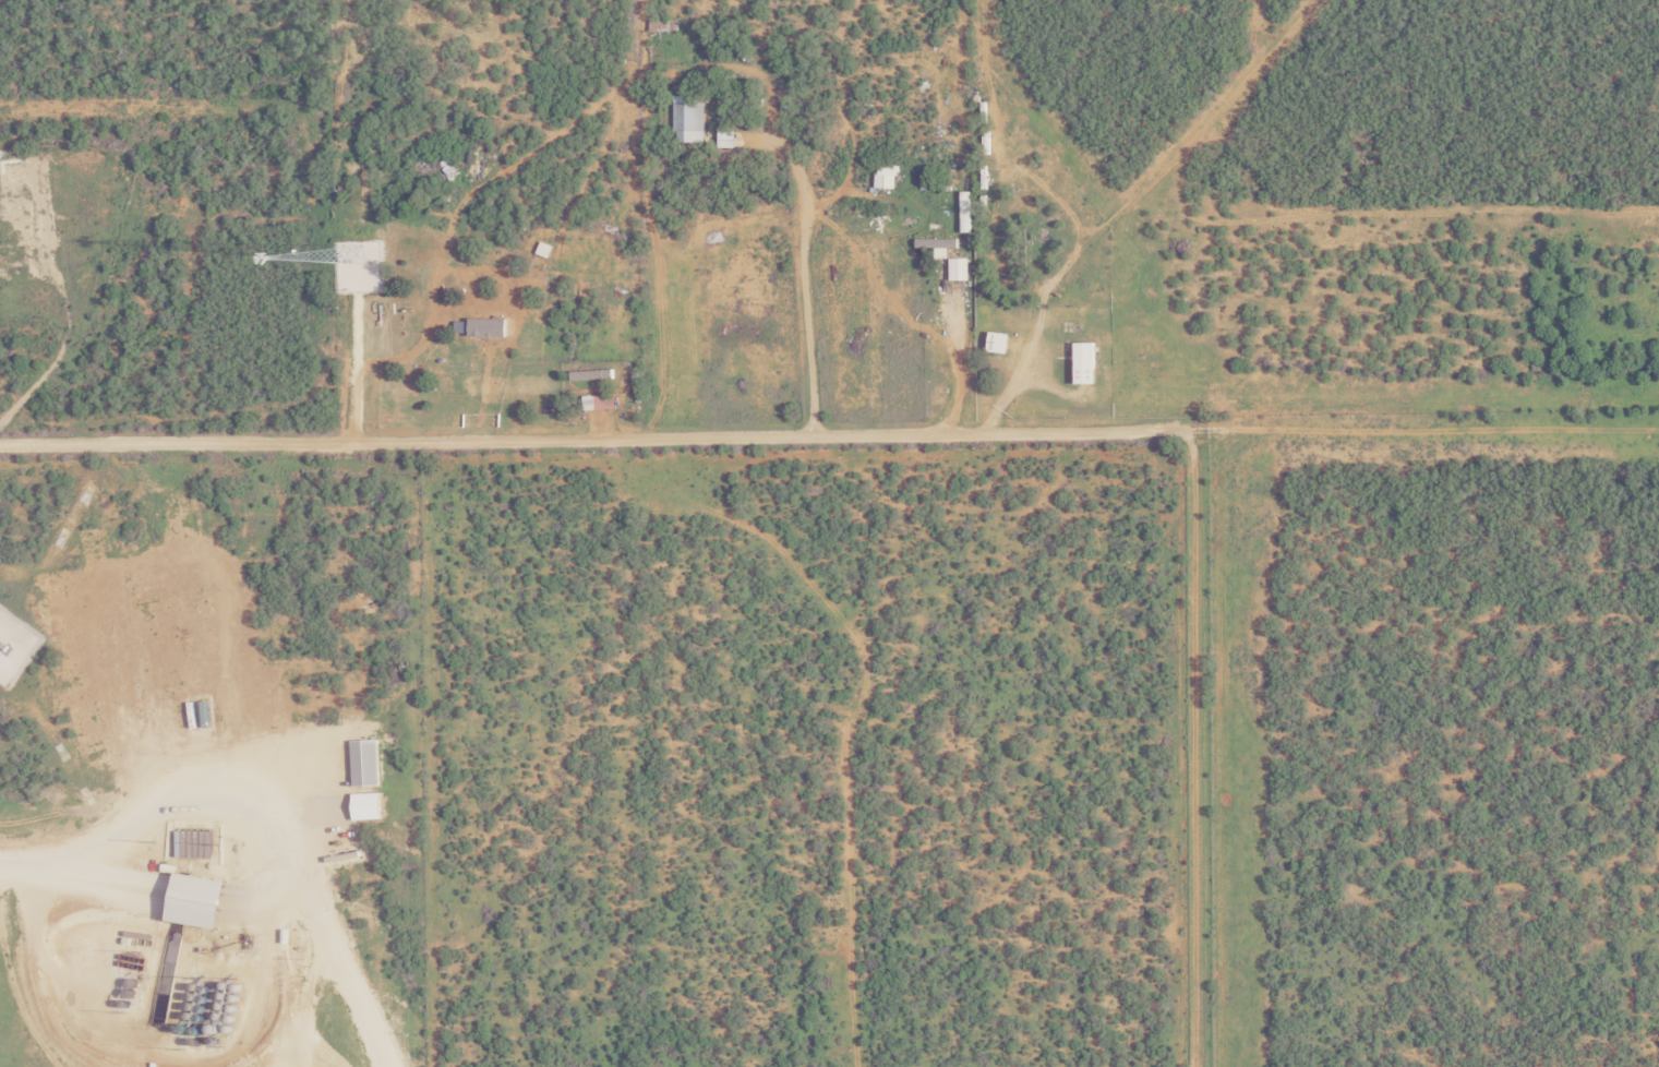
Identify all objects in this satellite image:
building: (687, 121)
building: (885, 176)
building: (933, 242)
building: (371, 259)
building: (996, 341)
building: (1082, 363)
road: (1421, 430)
road: (591, 442)
road: (1194, 747)

